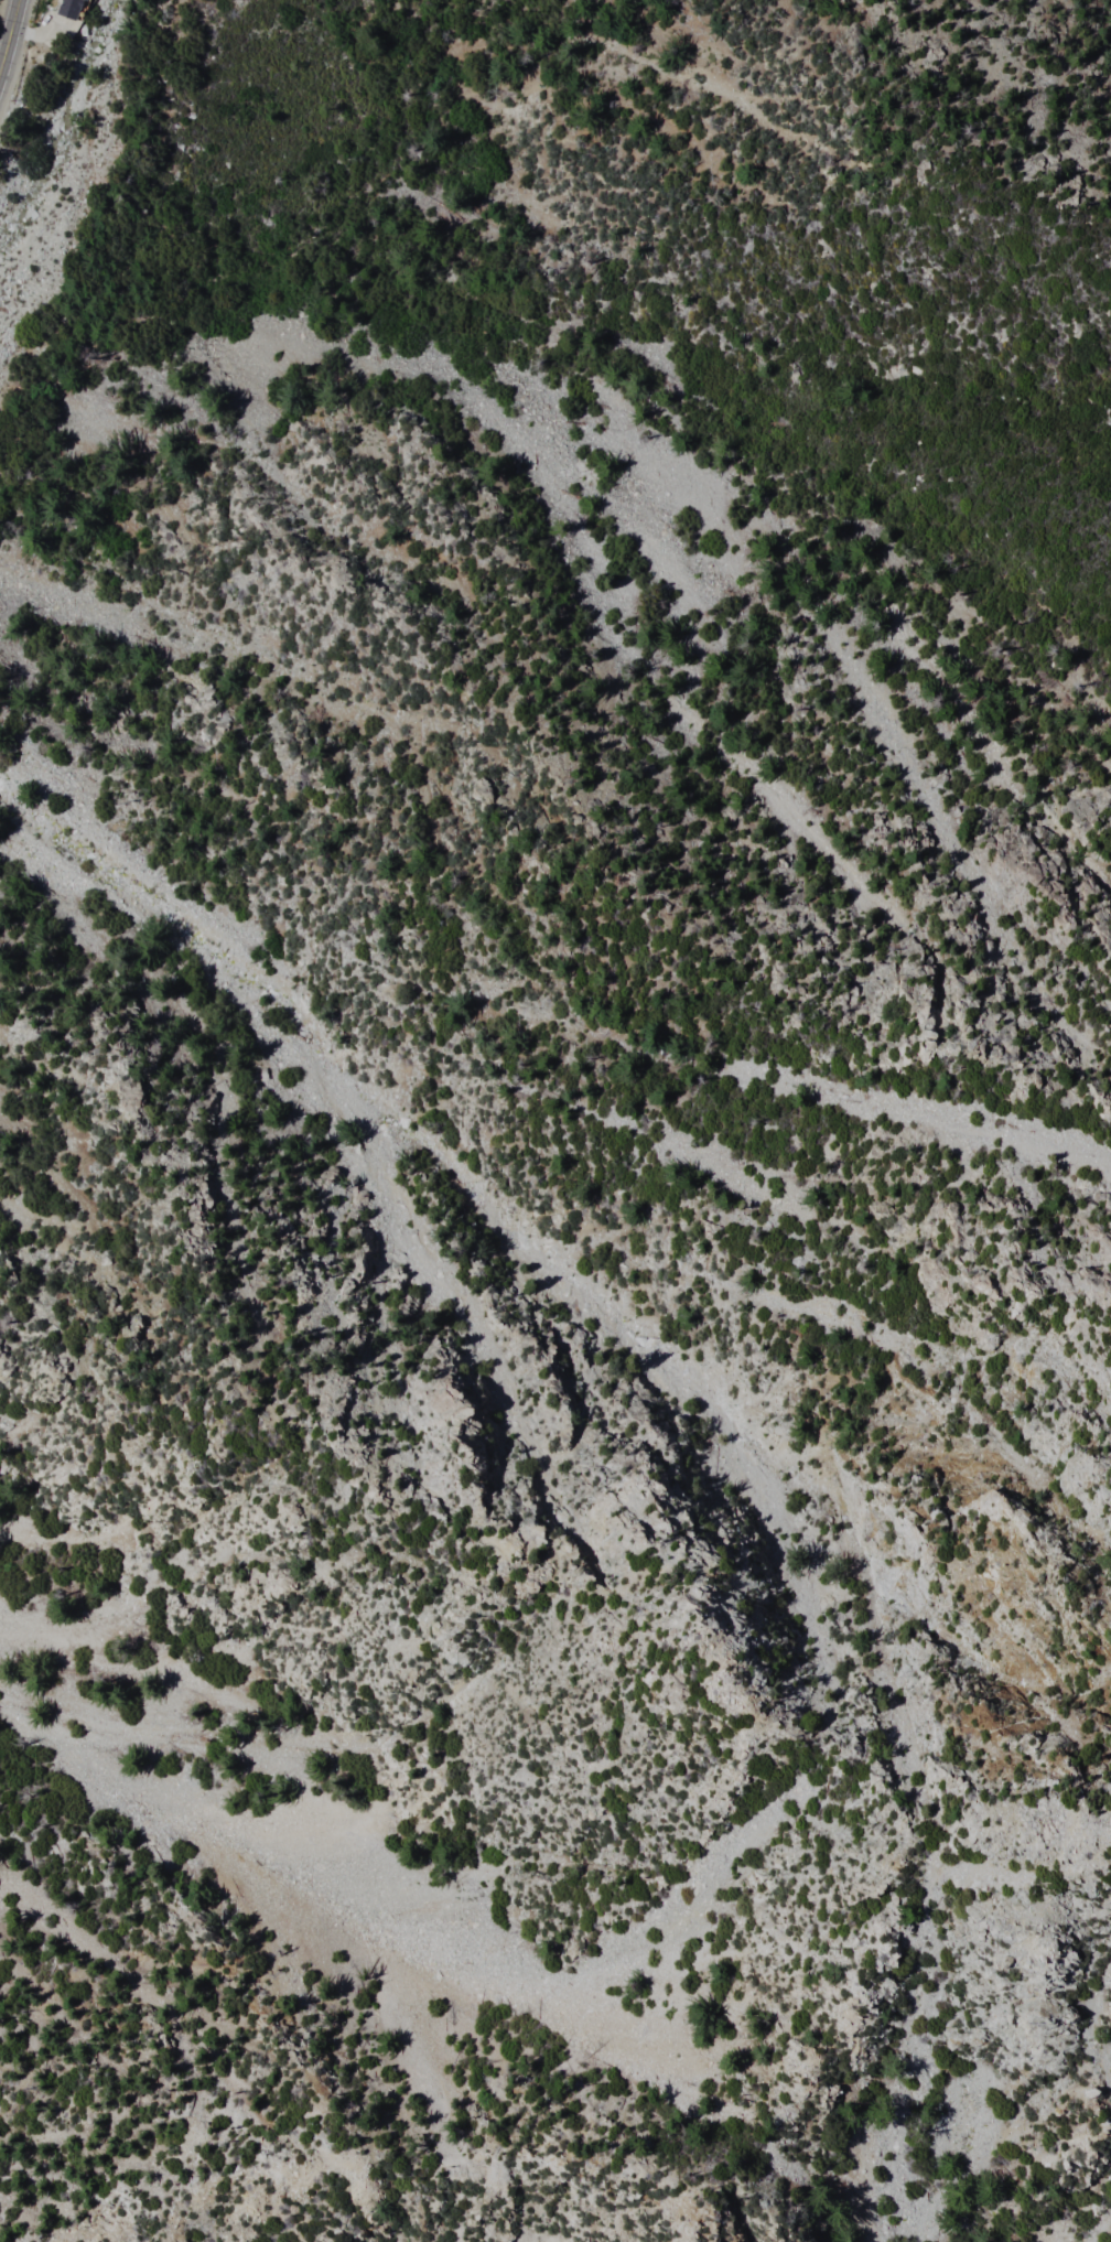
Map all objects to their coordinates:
building: (97, 0)
building: (61, 9)
building: (74, 9)
road: (11, 34)
road: (36, 35)

